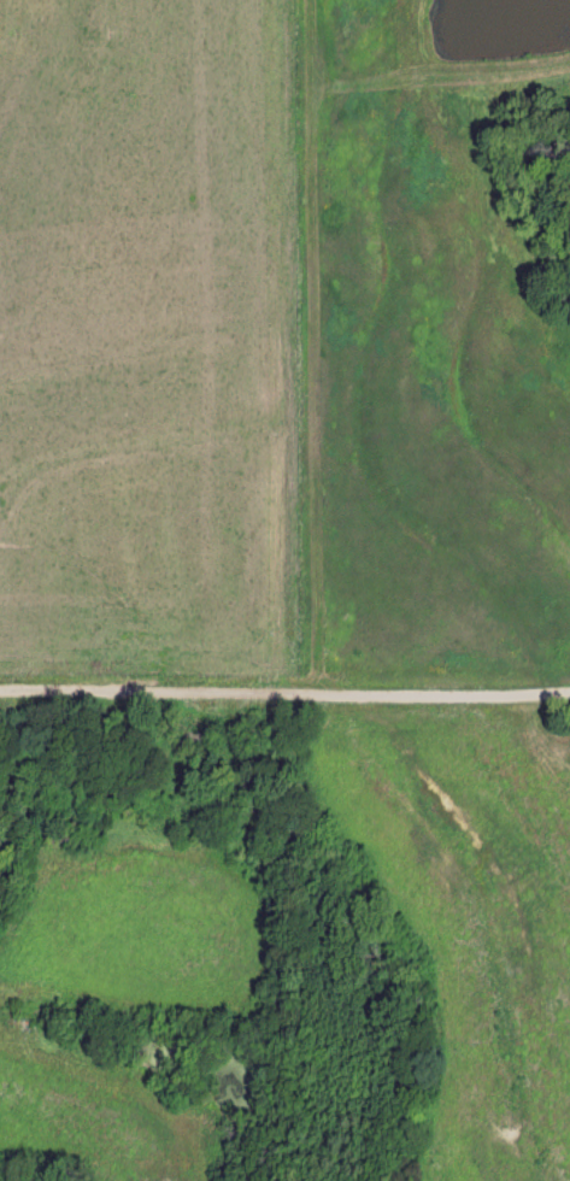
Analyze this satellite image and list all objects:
road: (284, 665)

